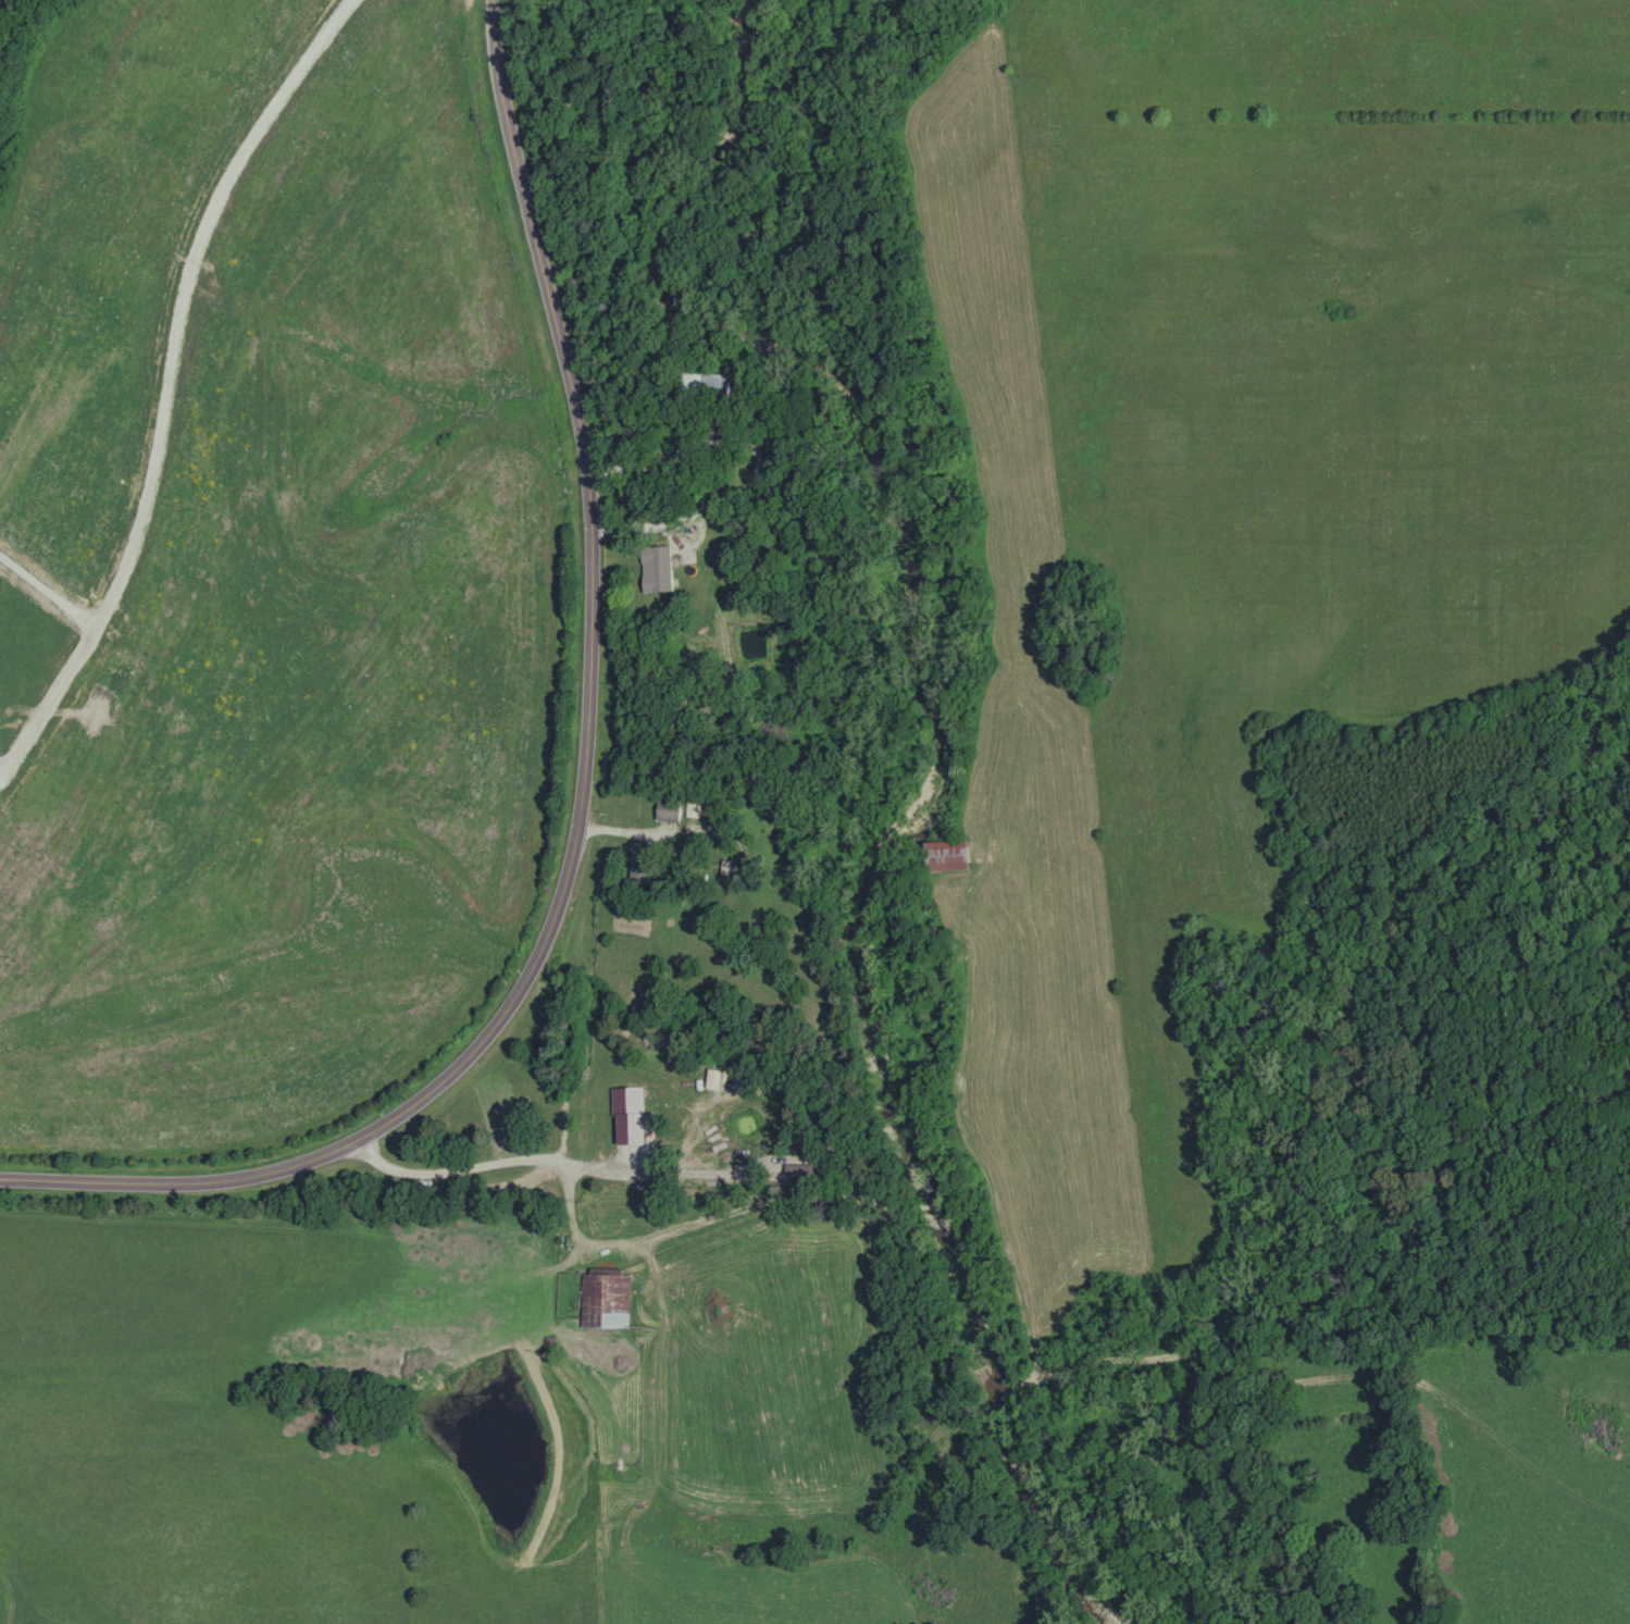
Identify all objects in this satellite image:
road: (166, 381)
road: (669, 533)
building: (657, 570)
road: (588, 794)
building: (670, 811)
road: (647, 833)
building: (947, 856)
road: (502, 1167)
building: (607, 1298)

